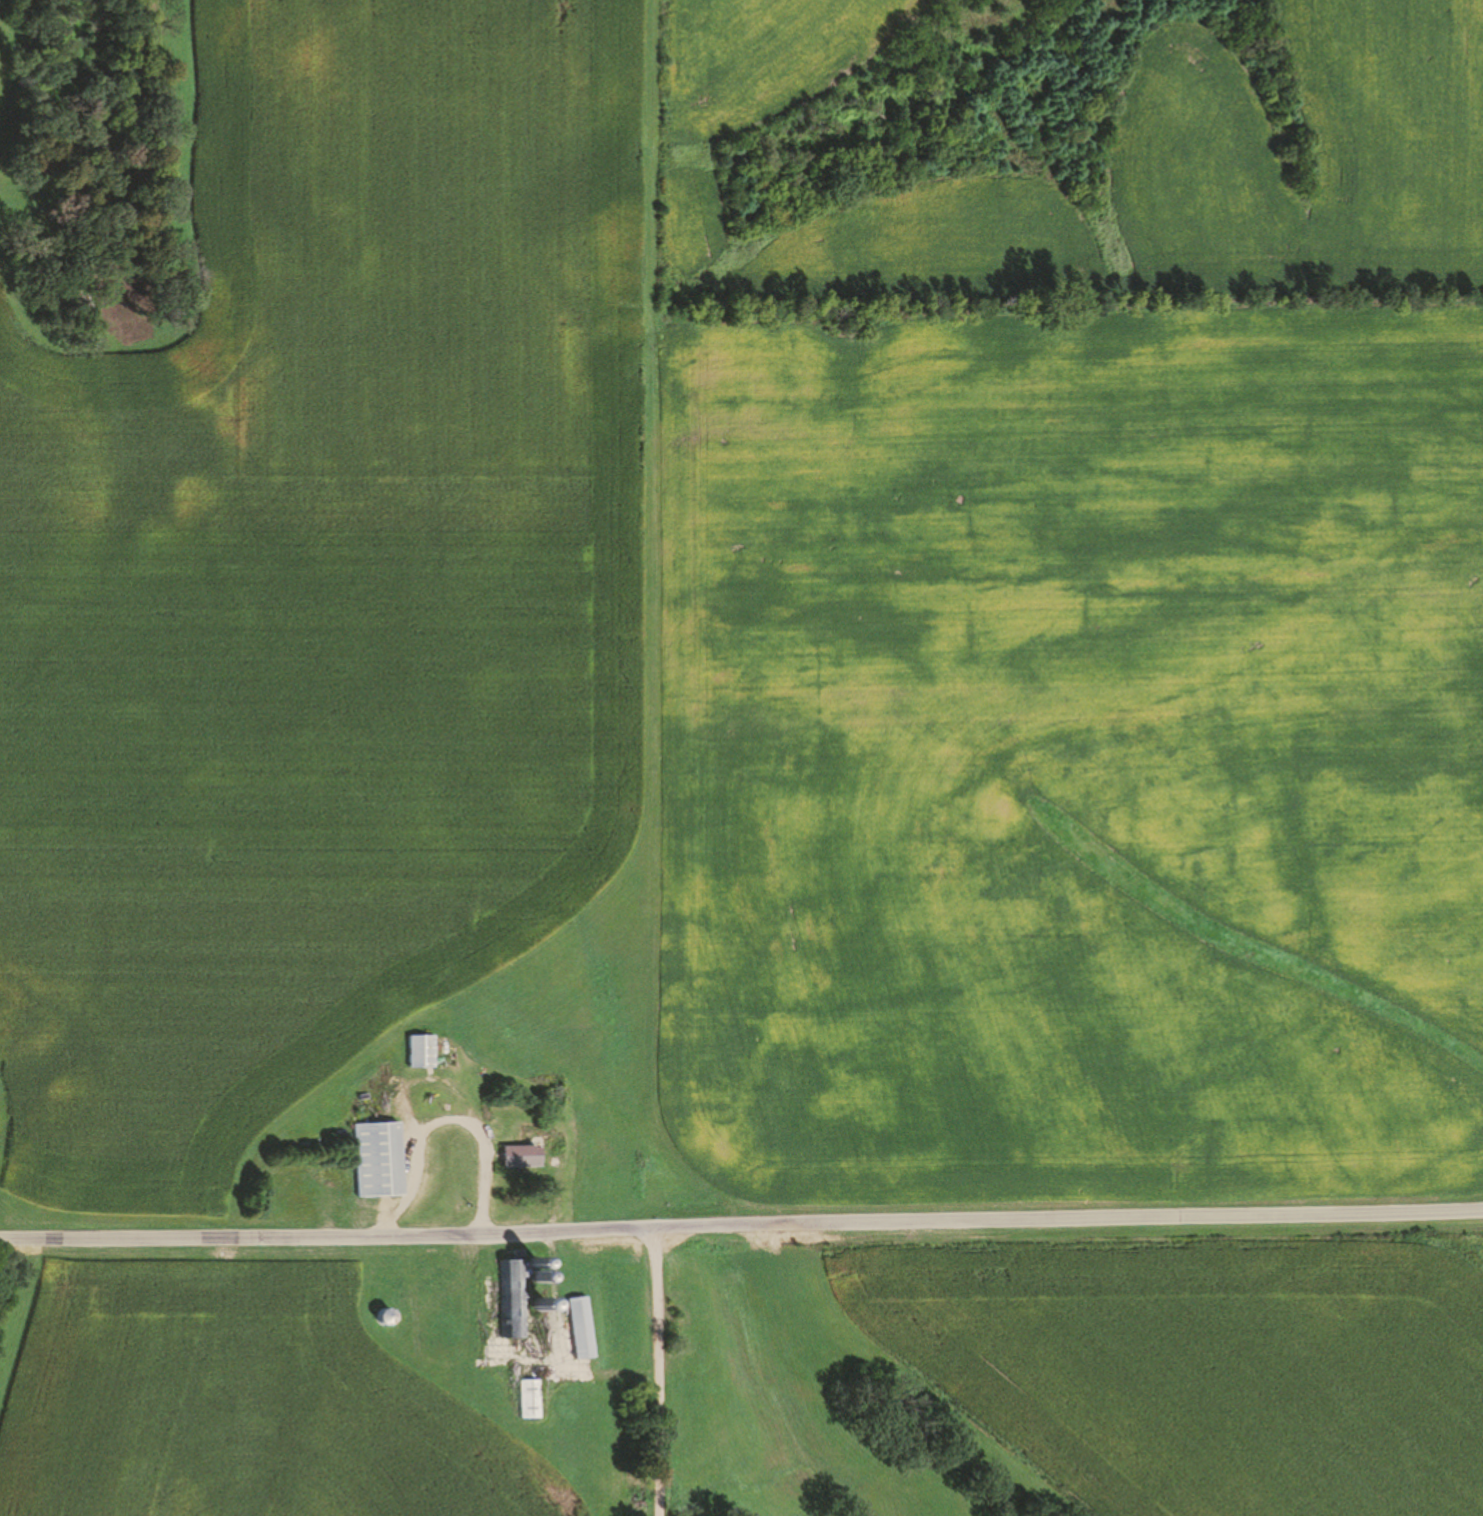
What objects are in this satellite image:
building: (421, 1052)
building: (520, 1156)
building: (378, 1160)
road: (741, 1223)
building: (512, 1301)
building: (385, 1317)
building: (580, 1328)
road: (658, 1370)
building: (530, 1399)

